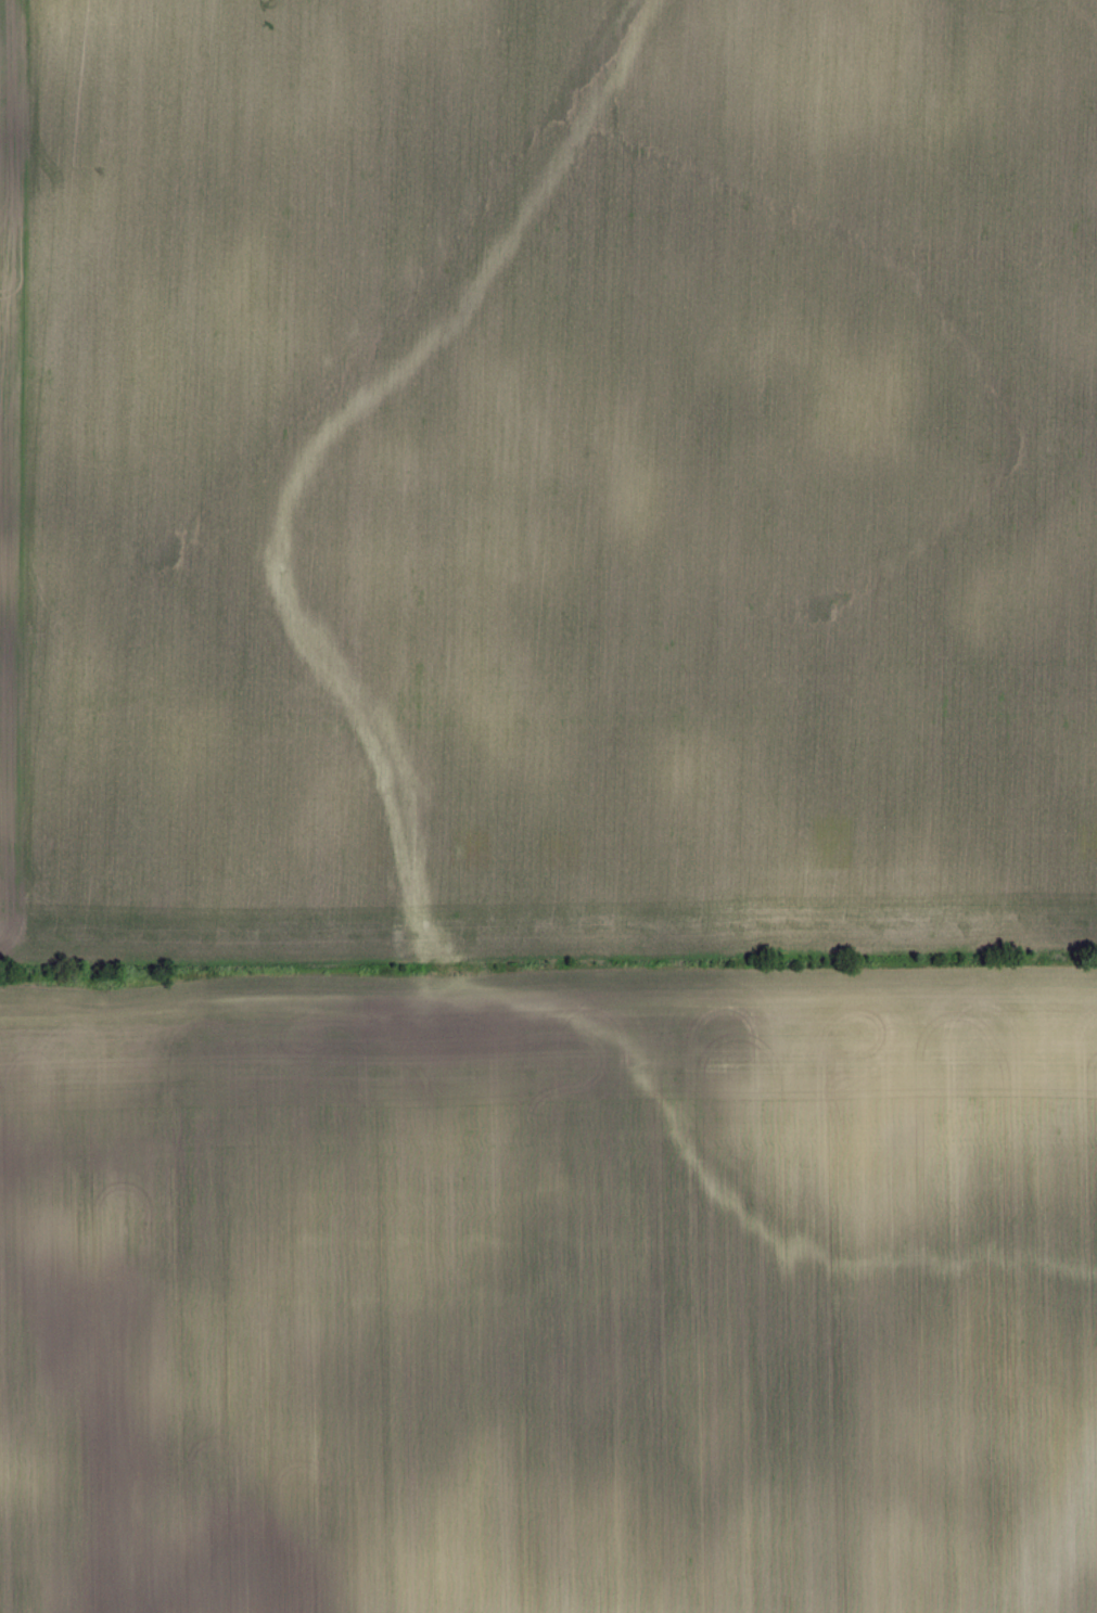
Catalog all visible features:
crop: (547, 477)
crop: (551, 1291)

